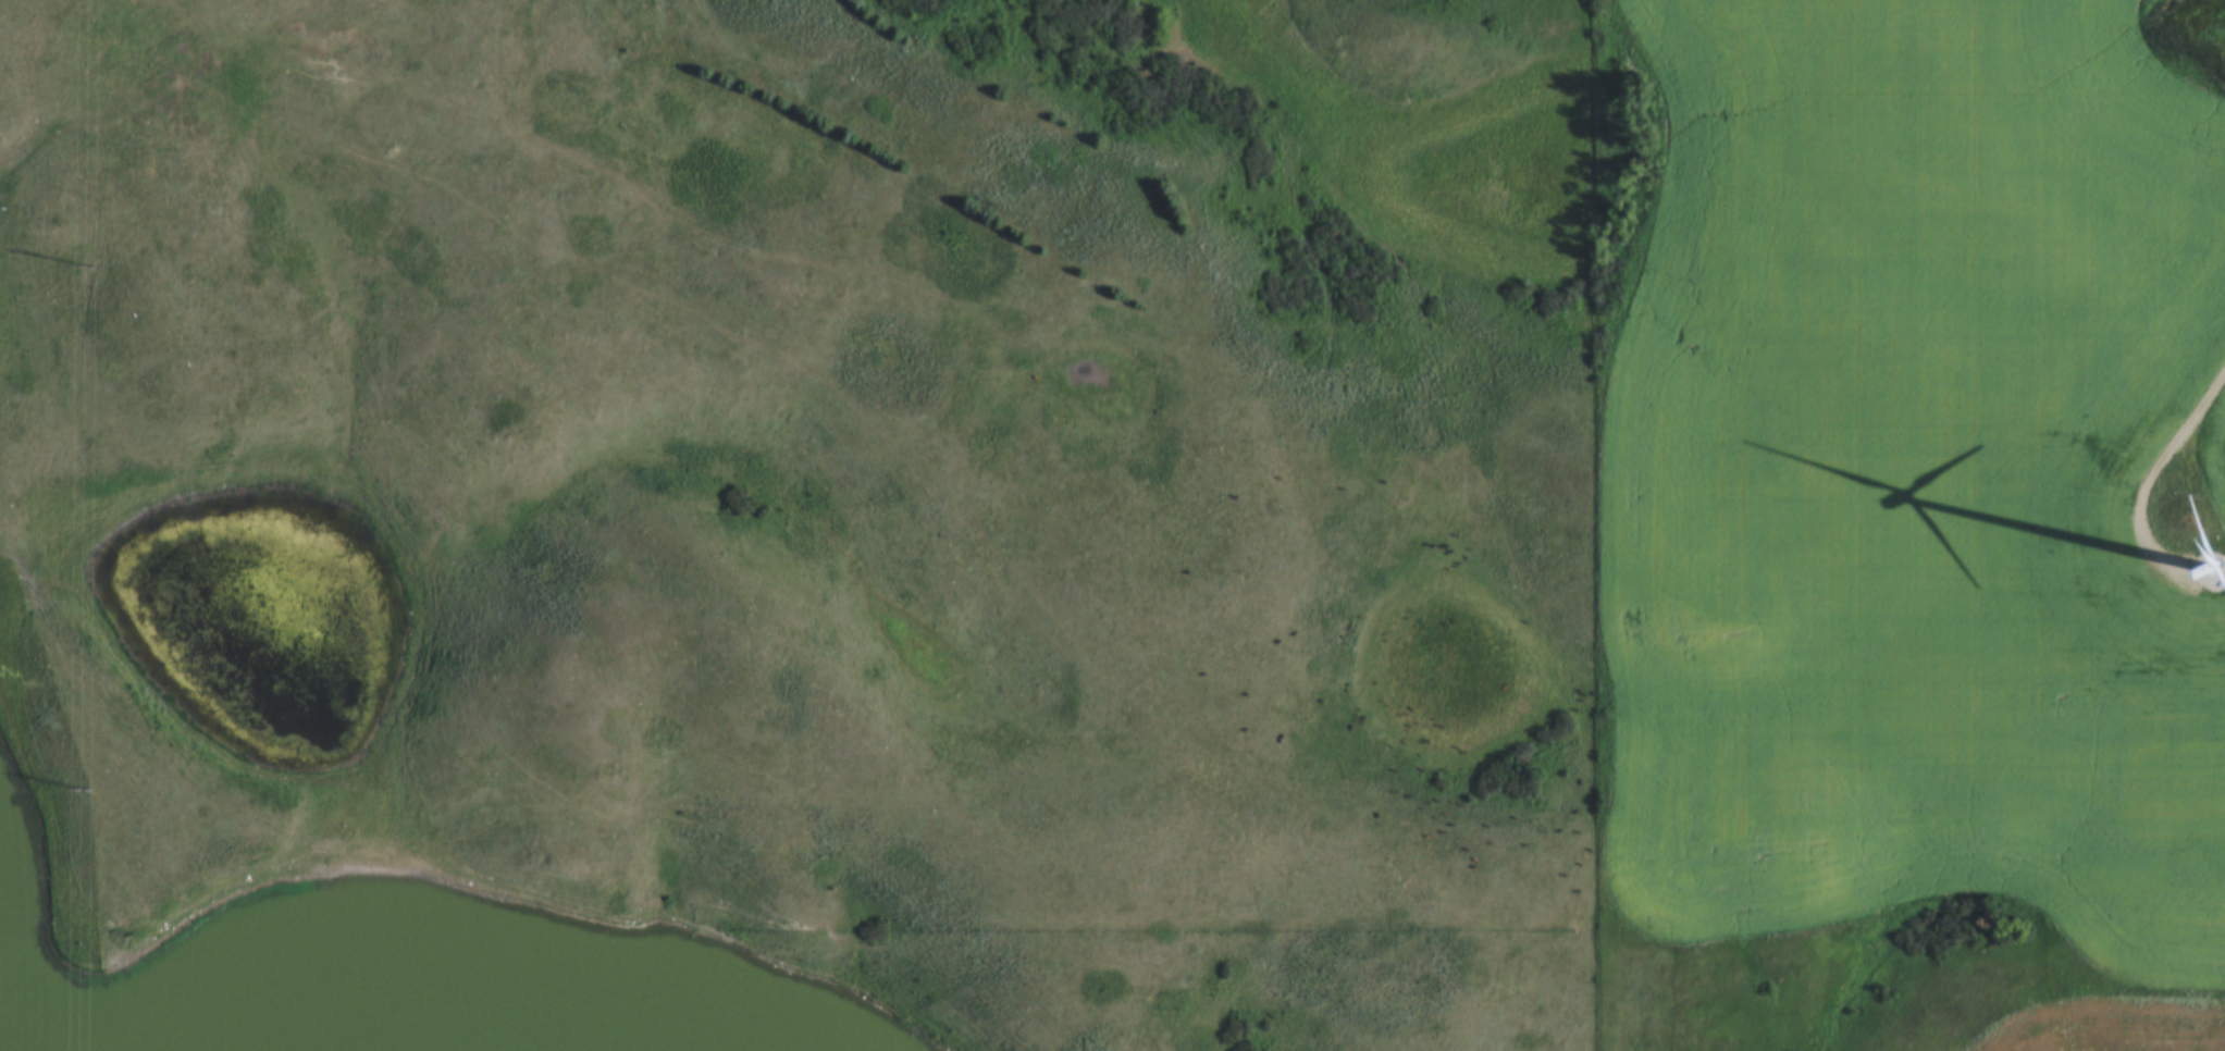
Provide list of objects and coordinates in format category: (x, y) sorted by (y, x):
road: (2148, 462)
wind turbine: (2207, 569)

